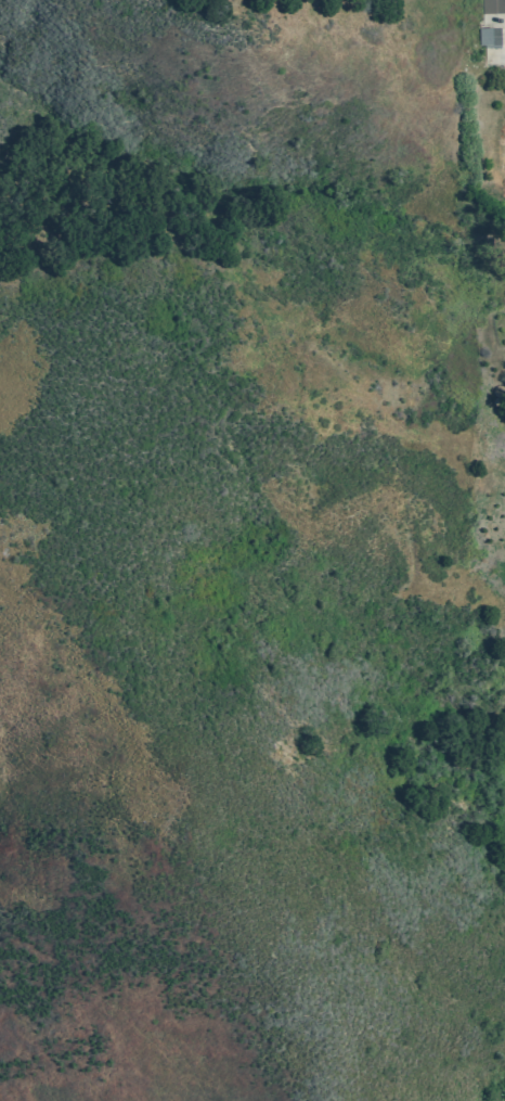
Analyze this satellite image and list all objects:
building: (493, 8)
building: (490, 36)
building: (497, 391)
storage tank: (497, 391)

